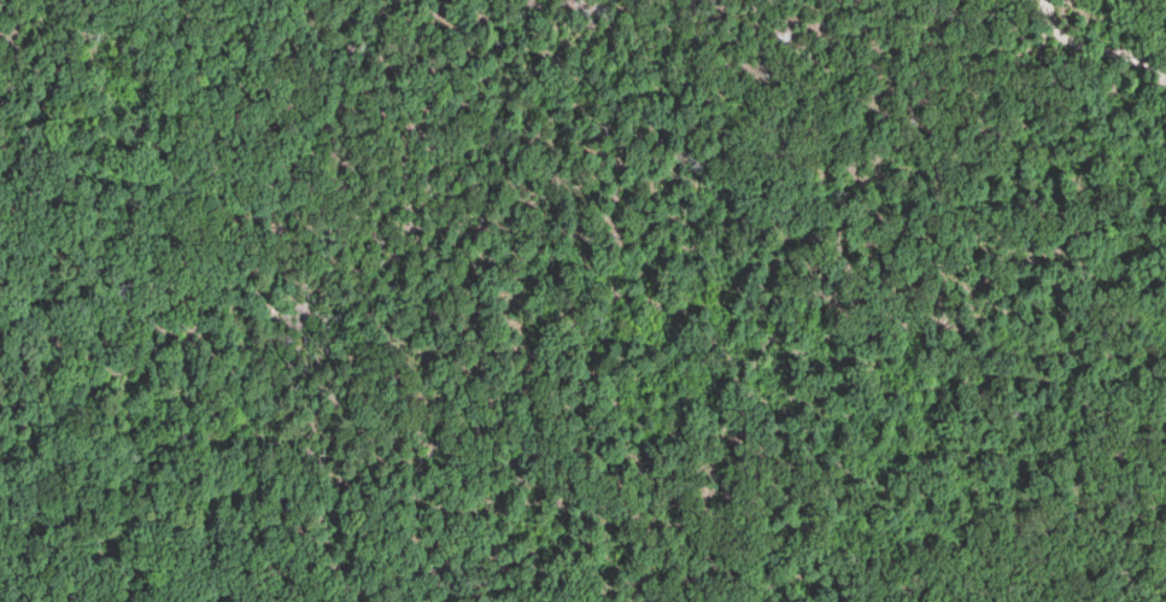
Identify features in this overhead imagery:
road: (803, 309)

